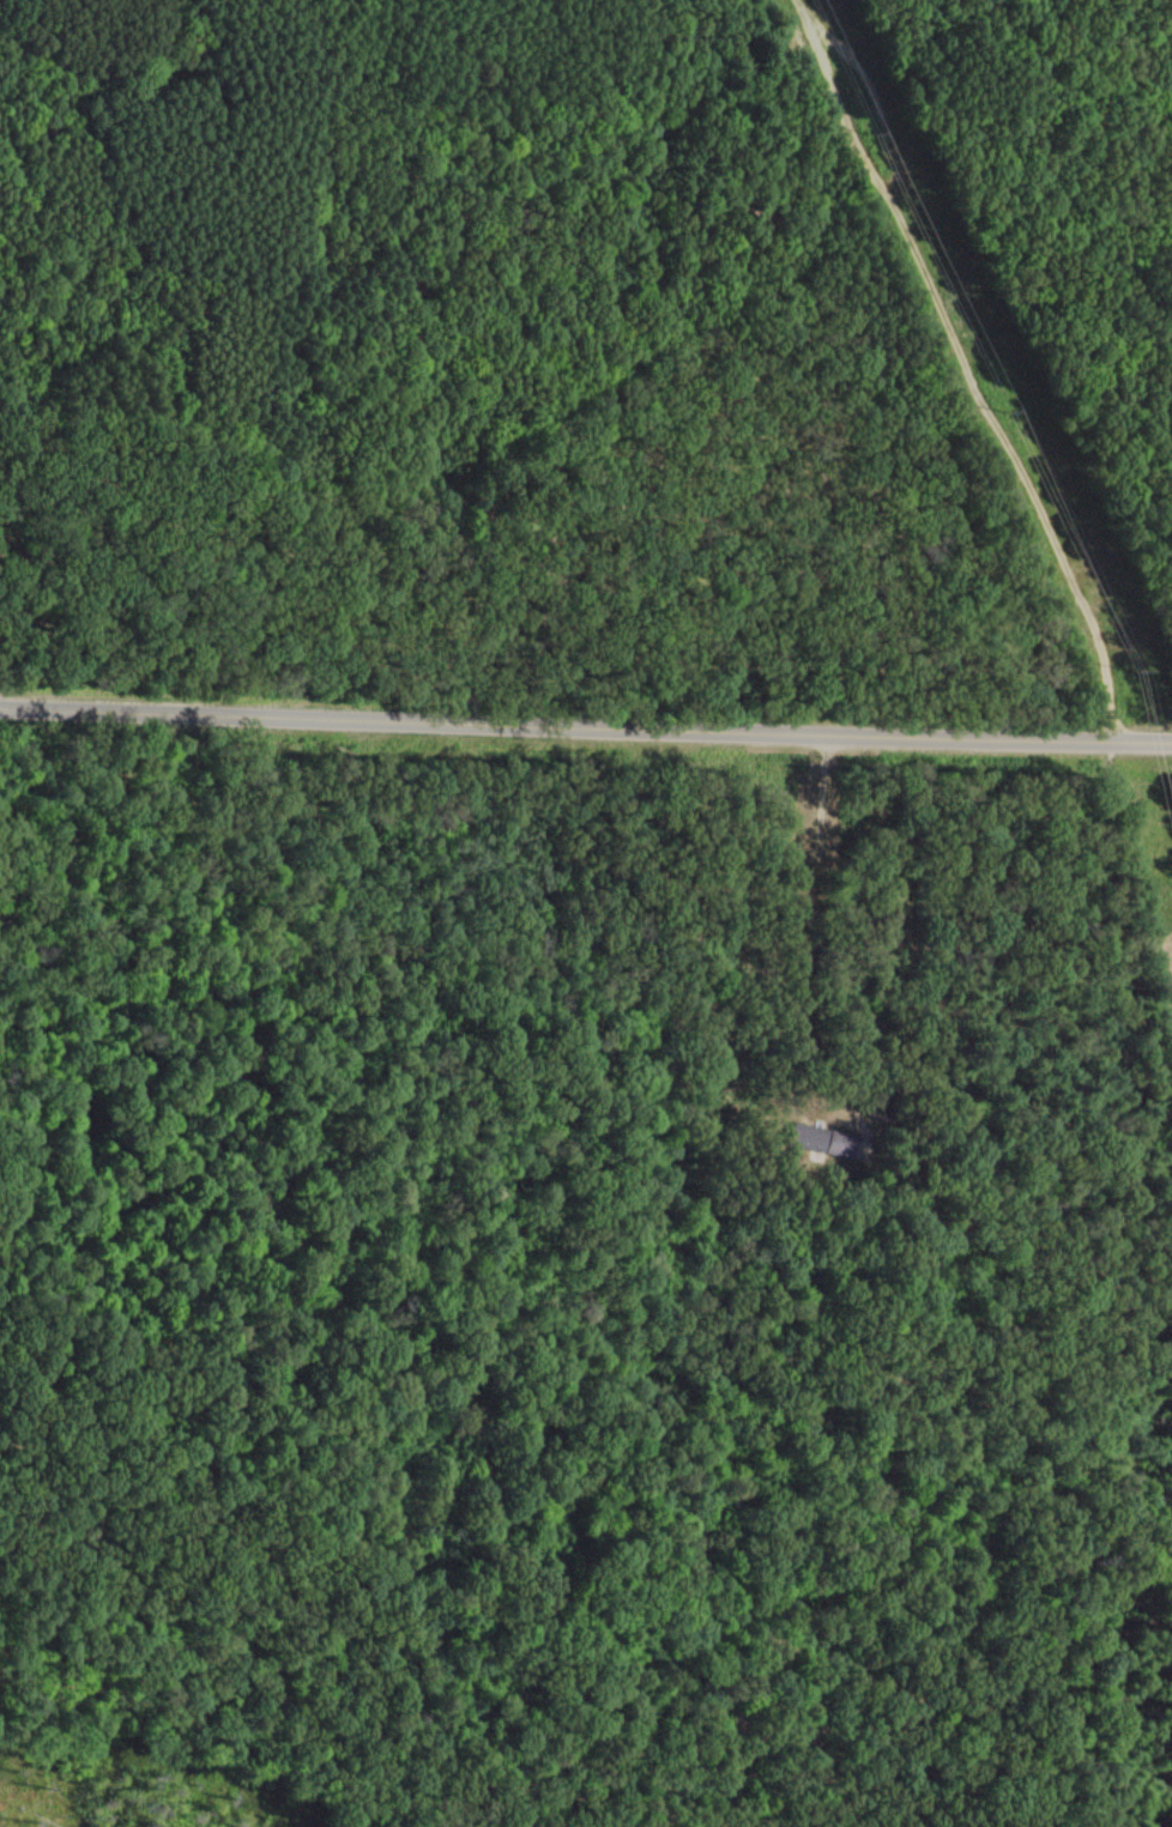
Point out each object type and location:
road: (280, 77)
road: (77, 214)
road: (957, 362)
road: (585, 716)
building: (821, 1138)

